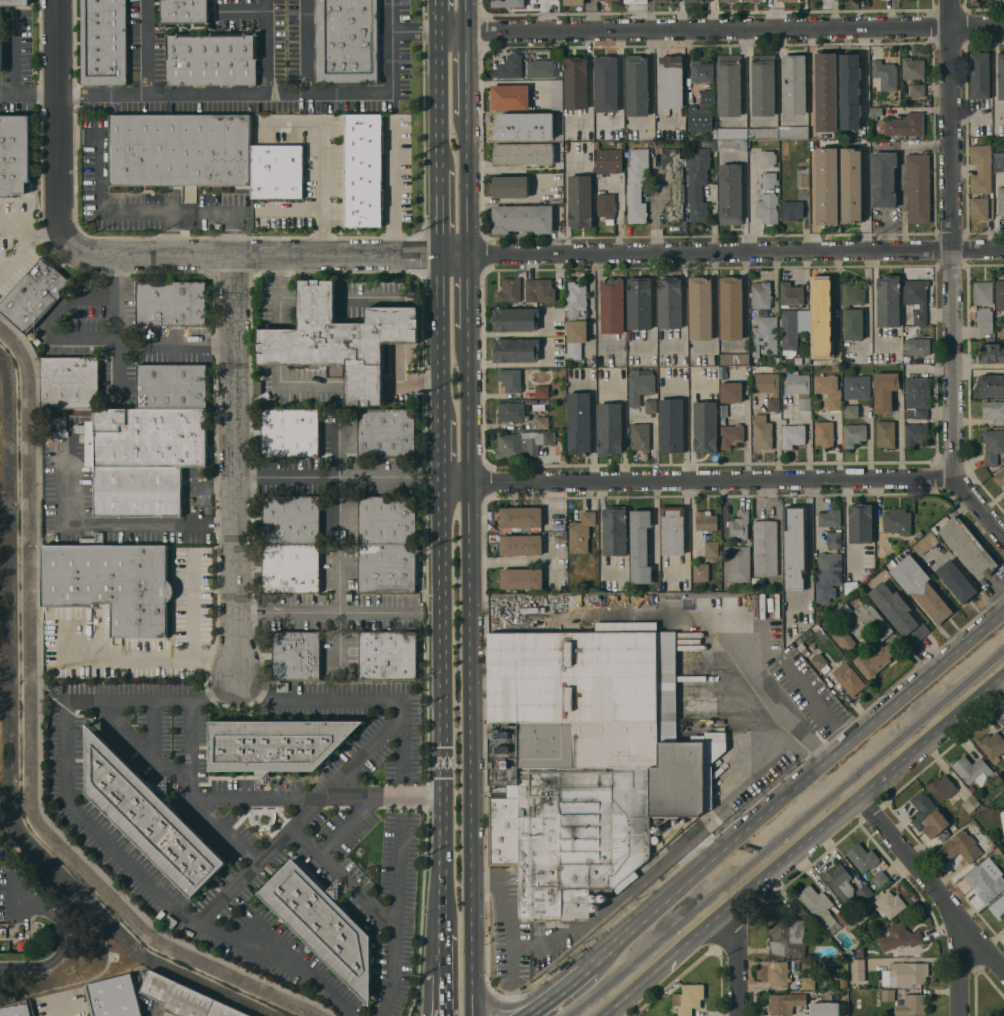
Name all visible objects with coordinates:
building: (600, 0)
building: (636, 0)
building: (742, 0)
building: (789, 0)
building: (666, 1)
building: (698, 1)
building: (574, 2)
building: (508, 3)
building: (185, 11)
road: (772, 15)
road: (466, 16)
road: (591, 16)
road: (437, 17)
road: (720, 30)
road: (397, 34)
building: (1, 38)
building: (348, 41)
building: (104, 42)
road: (264, 46)
road: (307, 46)
road: (12, 55)
building: (212, 60)
building: (509, 67)
building: (542, 68)
building: (912, 68)
building: (701, 71)
road: (467, 73)
building: (980, 74)
building: (885, 75)
building: (1001, 75)
road: (813, 79)
road: (864, 79)
road: (589, 81)
building: (575, 82)
building: (671, 82)
road: (780, 82)
building: (606, 83)
building: (794, 83)
building: (763, 84)
building: (637, 85)
building: (729, 85)
road: (145, 90)
building: (918, 90)
road: (29, 91)
building: (850, 91)
building: (826, 92)
road: (297, 93)
building: (556, 96)
building: (510, 97)
building: (708, 97)
road: (438, 101)
building: (875, 113)
building: (699, 120)
road: (59, 123)
building: (905, 125)
building: (512, 127)
building: (793, 132)
building: (732, 133)
building: (763, 133)
building: (732, 145)
building: (180, 149)
building: (784, 151)
building: (14, 154)
building: (523, 154)
road: (324, 158)
building: (768, 158)
building: (609, 161)
building: (998, 164)
building: (364, 169)
building: (981, 169)
building: (277, 172)
building: (803, 177)
building: (883, 179)
building: (769, 180)
building: (698, 183)
road: (467, 184)
building: (673, 184)
building: (637, 185)
building: (827, 185)
building: (851, 185)
building: (510, 186)
building: (918, 187)
road: (394, 190)
building: (730, 194)
building: (580, 201)
building: (1000, 203)
building: (606, 205)
road: (290, 208)
building: (767, 208)
building: (979, 208)
building: (791, 210)
road: (439, 212)
road: (115, 213)
building: (522, 218)
road: (168, 233)
road: (229, 233)
road: (30, 234)
road: (952, 240)
road: (536, 253)
road: (17, 254)
building: (526, 290)
road: (281, 291)
building: (791, 294)
building: (35, 295)
building: (761, 295)
building: (1000, 295)
road: (467, 299)
building: (888, 301)
building: (915, 301)
building: (669, 302)
building: (171, 303)
building: (639, 303)
building: (612, 305)
building: (983, 305)
road: (714, 307)
building: (700, 308)
building: (731, 308)
road: (598, 309)
building: (852, 311)
building: (515, 319)
building: (576, 319)
road: (49, 323)
building: (906, 324)
building: (792, 331)
building: (765, 336)
road: (440, 337)
building: (340, 340)
building: (917, 346)
road: (279, 347)
road: (128, 349)
building: (515, 350)
building: (991, 353)
building: (734, 359)
building: (807, 360)
building: (776, 361)
road: (979, 365)
building: (776, 368)
building: (510, 379)
building: (70, 382)
road: (412, 382)
building: (766, 382)
road: (365, 384)
road: (303, 385)
building: (991, 385)
building: (172, 386)
building: (640, 386)
building: (857, 387)
building: (798, 388)
building: (828, 390)
building: (541, 391)
building: (884, 391)
building: (731, 392)
building: (918, 396)
building: (773, 404)
building: (651, 405)
building: (510, 411)
building: (851, 411)
building: (994, 411)
building: (541, 422)
building: (579, 423)
road: (624, 425)
building: (58, 426)
road: (593, 426)
building: (671, 426)
road: (685, 426)
building: (705, 427)
building: (609, 429)
building: (762, 432)
building: (290, 433)
building: (386, 433)
building: (824, 434)
building: (853, 434)
building: (885, 434)
building: (915, 434)
building: (792, 435)
building: (639, 436)
building: (731, 436)
road: (654, 438)
road: (900, 439)
building: (64, 443)
building: (523, 443)
building: (993, 446)
road: (777, 449)
road: (442, 450)
building: (143, 458)
road: (233, 467)
building: (999, 477)
road: (326, 480)
road: (736, 481)
road: (816, 516)
building: (520, 517)
building: (829, 518)
building: (291, 520)
building: (387, 520)
building: (705, 521)
building: (897, 521)
building: (879, 522)
building: (860, 523)
road: (124, 524)
building: (739, 526)
building: (672, 530)
building: (614, 531)
building: (581, 532)
building: (918, 533)
building: (560, 535)
road: (687, 536)
building: (834, 539)
building: (926, 543)
building: (521, 544)
building: (883, 545)
building: (640, 546)
building: (795, 546)
building: (967, 547)
building: (711, 548)
building: (765, 548)
road: (809, 548)
building: (738, 564)
building: (291, 568)
building: (387, 568)
building: (700, 574)
building: (828, 576)
building: (521, 578)
building: (956, 581)
building: (112, 584)
road: (338, 584)
building: (921, 587)
road: (193, 607)
road: (322, 610)
building: (842, 611)
building: (898, 613)
building: (873, 620)
building: (842, 637)
road: (716, 638)
building: (296, 655)
building: (388, 655)
road: (142, 658)
building: (876, 659)
building: (819, 661)
building: (848, 678)
road: (469, 679)
road: (442, 684)
road: (357, 698)
road: (104, 700)
building: (1003, 720)
building: (1003, 722)
road: (153, 727)
building: (277, 743)
road: (190, 746)
building: (992, 746)
river: (23, 748)
road: (808, 751)
road: (362, 753)
building: (587, 759)
building: (785, 762)
road: (816, 769)
building: (972, 770)
road: (177, 782)
building: (941, 788)
building: (971, 788)
road: (381, 794)
road: (259, 797)
building: (970, 804)
building: (928, 817)
building: (149, 818)
road: (350, 825)
building: (656, 829)
railway: (786, 832)
building: (1003, 836)
building: (654, 839)
road: (804, 843)
building: (962, 845)
building: (863, 857)
road: (259, 858)
building: (986, 877)
building: (879, 878)
road: (343, 879)
building: (839, 882)
road: (929, 887)
road: (625, 891)
building: (864, 892)
parking lot: (15, 897)
building: (594, 897)
building: (602, 898)
building: (888, 904)
building: (818, 905)
building: (595, 907)
building: (998, 907)
road: (444, 912)
building: (861, 914)
road: (395, 917)
building: (846, 918)
park: (67, 922)
road: (201, 923)
building: (321, 924)
building: (788, 934)
building: (899, 937)
road: (610, 950)
road: (59, 955)
road: (738, 958)
building: (808, 964)
building: (857, 970)
road: (959, 970)
building: (907, 973)
road: (429, 974)
building: (779, 974)
road: (444, 976)
building: (808, 983)
building: (843, 983)
road: (568, 985)
building: (887, 995)
building: (113, 997)
building: (185, 998)
building: (689, 998)
building: (785, 1003)
building: (911, 1005)
road: (62, 1007)
road: (537, 1008)
building: (16, 1009)
road: (503, 1009)
building: (824, 1009)

